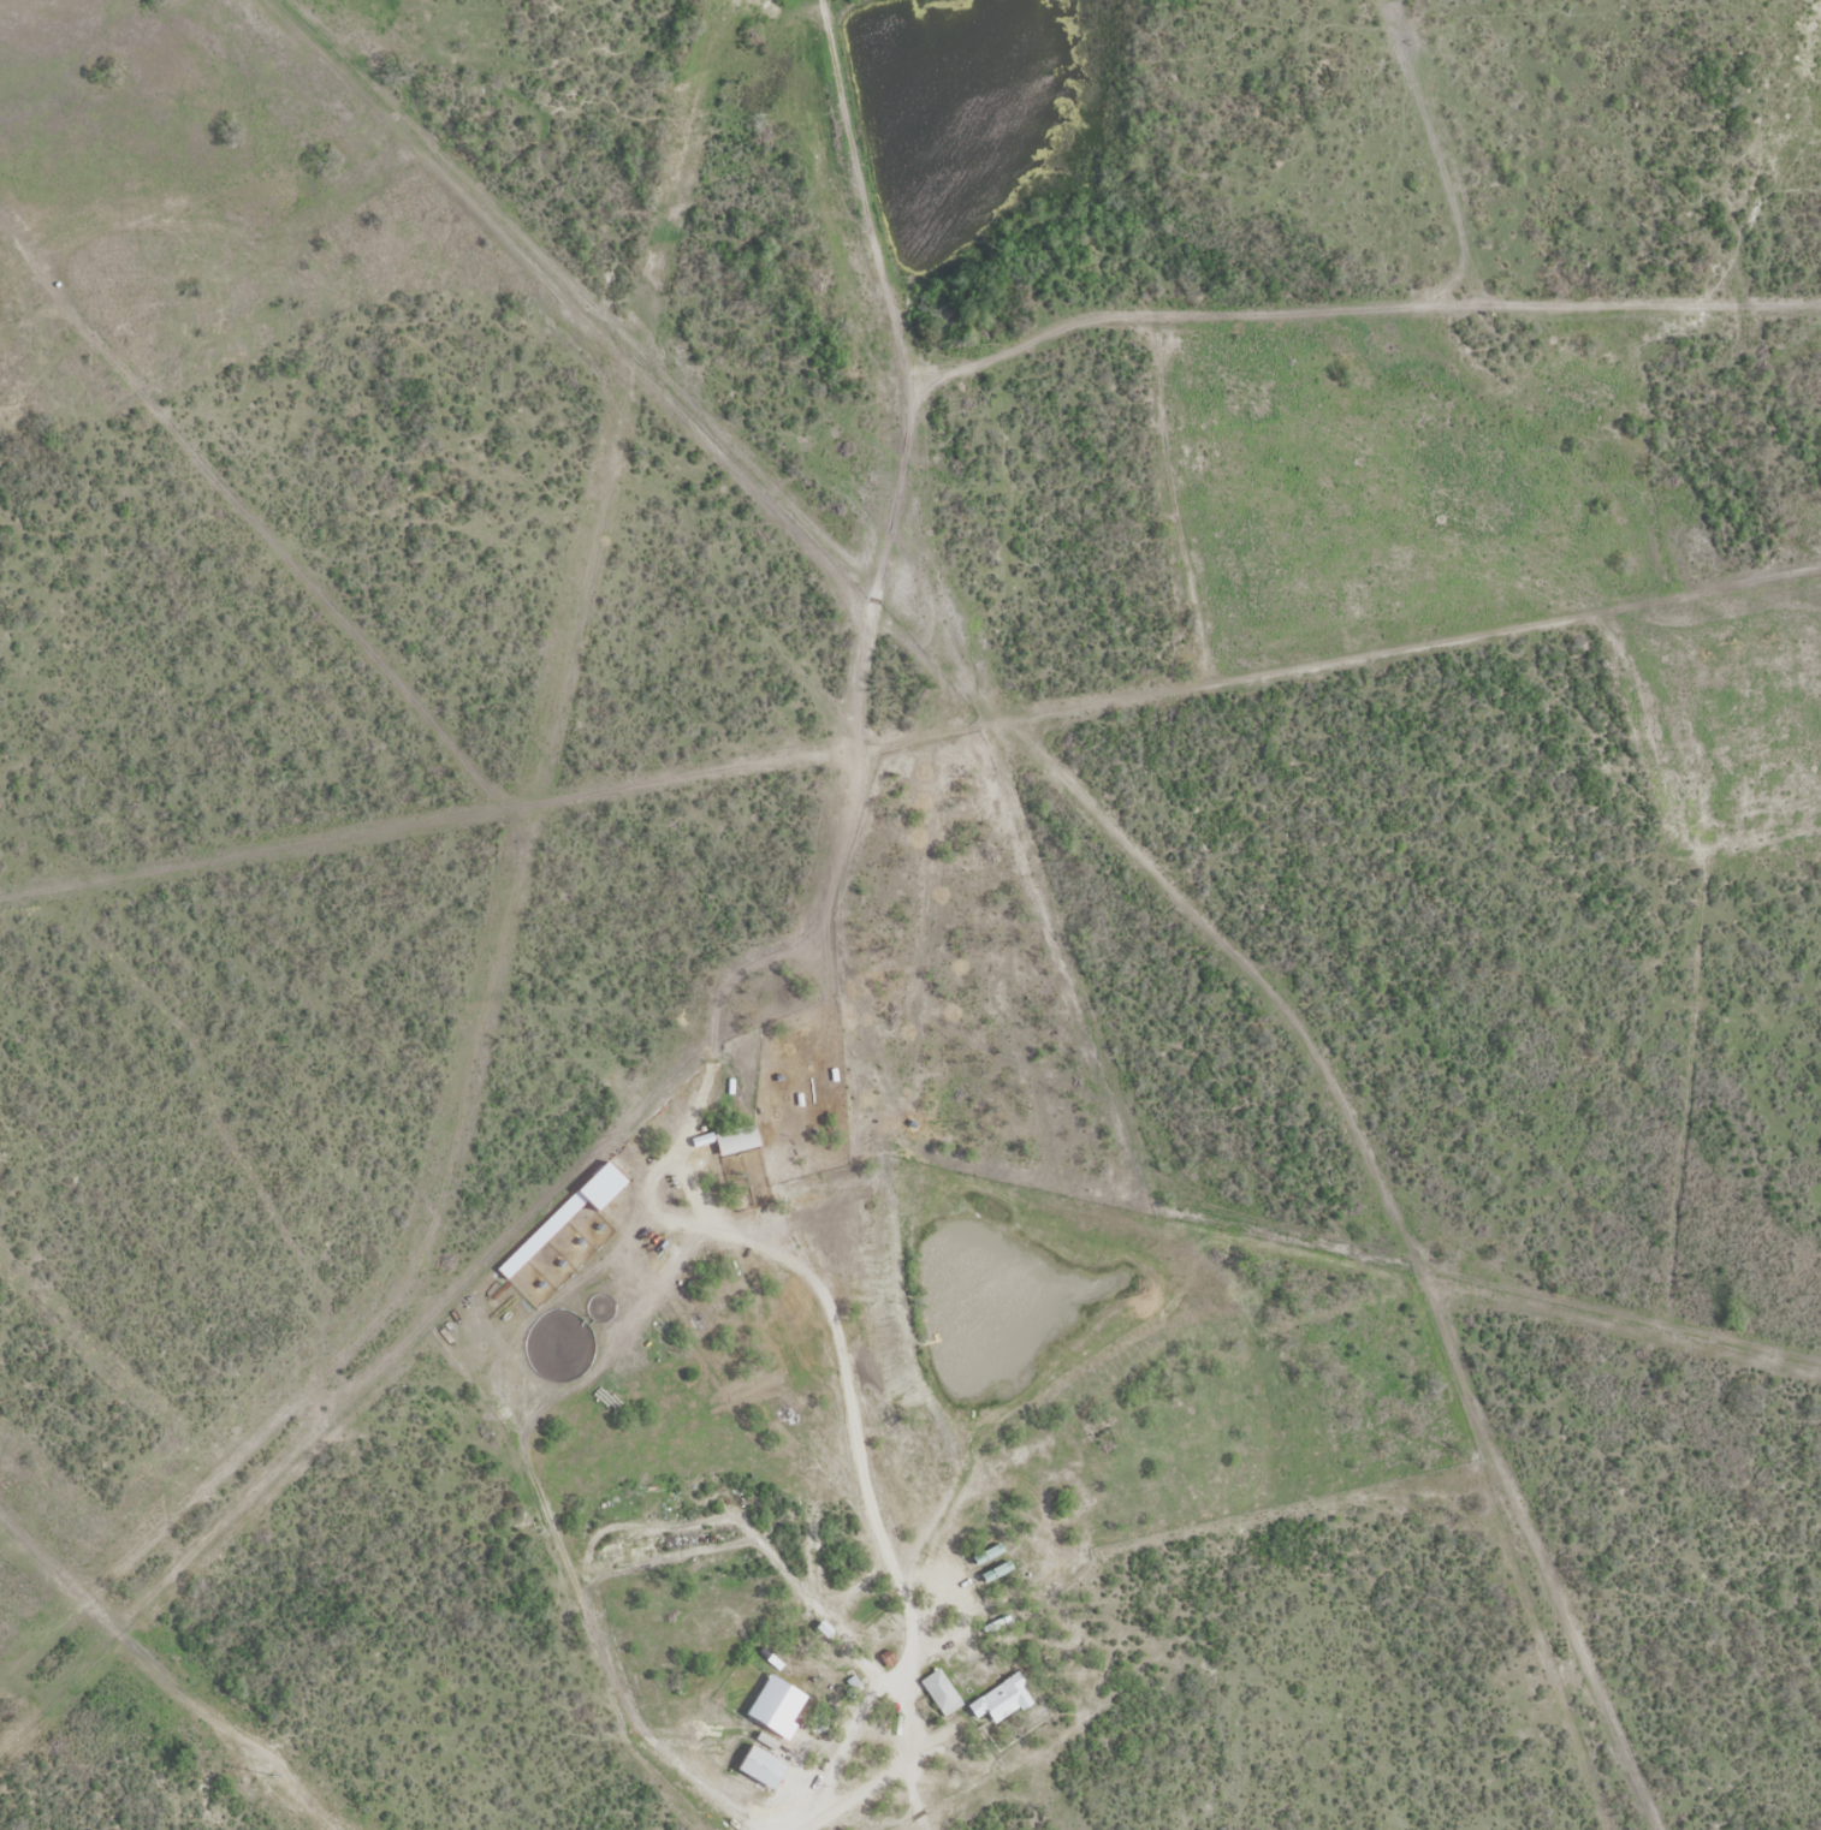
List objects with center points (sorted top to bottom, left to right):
building: (732, 1140)
road: (883, 1545)
building: (984, 1555)
building: (993, 1571)
building: (819, 1628)
building: (885, 1657)
building: (852, 1682)
building: (938, 1692)
building: (1000, 1699)
building: (771, 1705)
building: (755, 1766)
power tower: (269, 1773)

